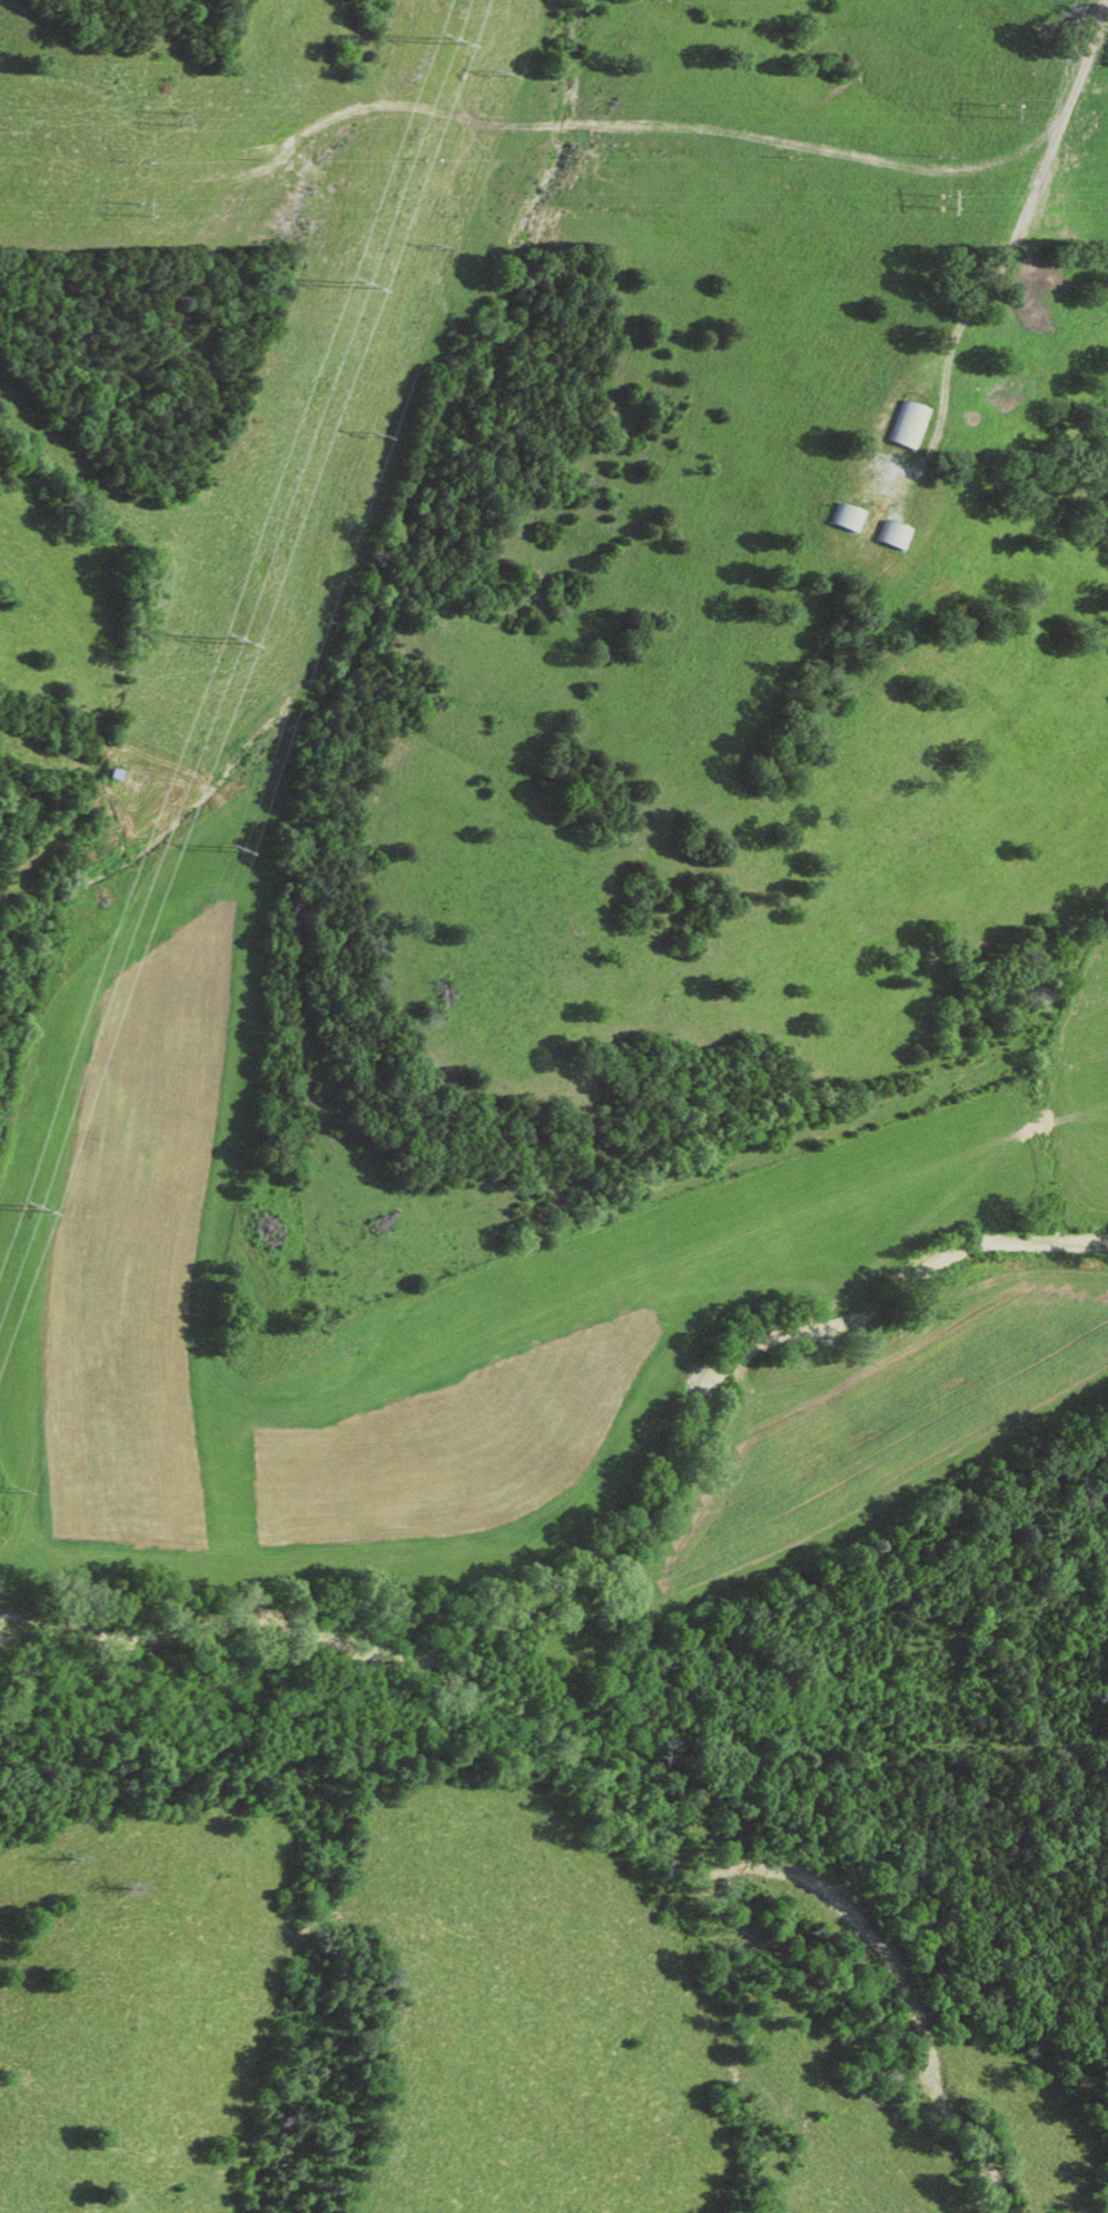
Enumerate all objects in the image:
power tower: (433, 40)
power tower: (346, 285)
power tower: (220, 636)
power tower: (21, 1207)

